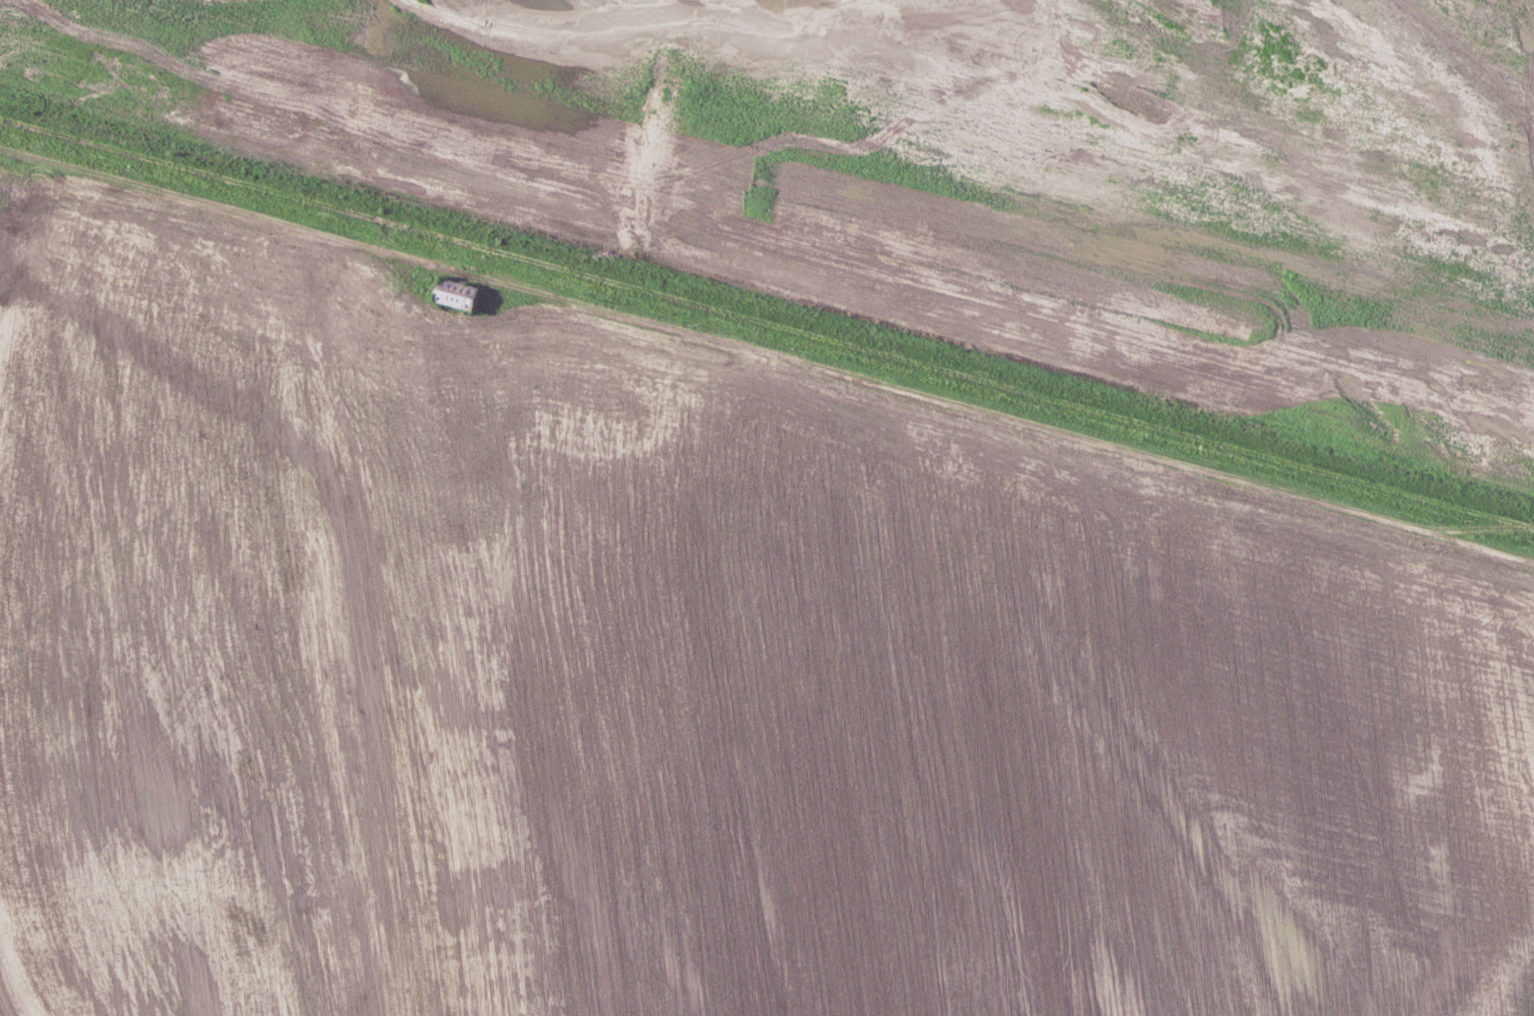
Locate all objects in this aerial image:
road: (767, 280)

